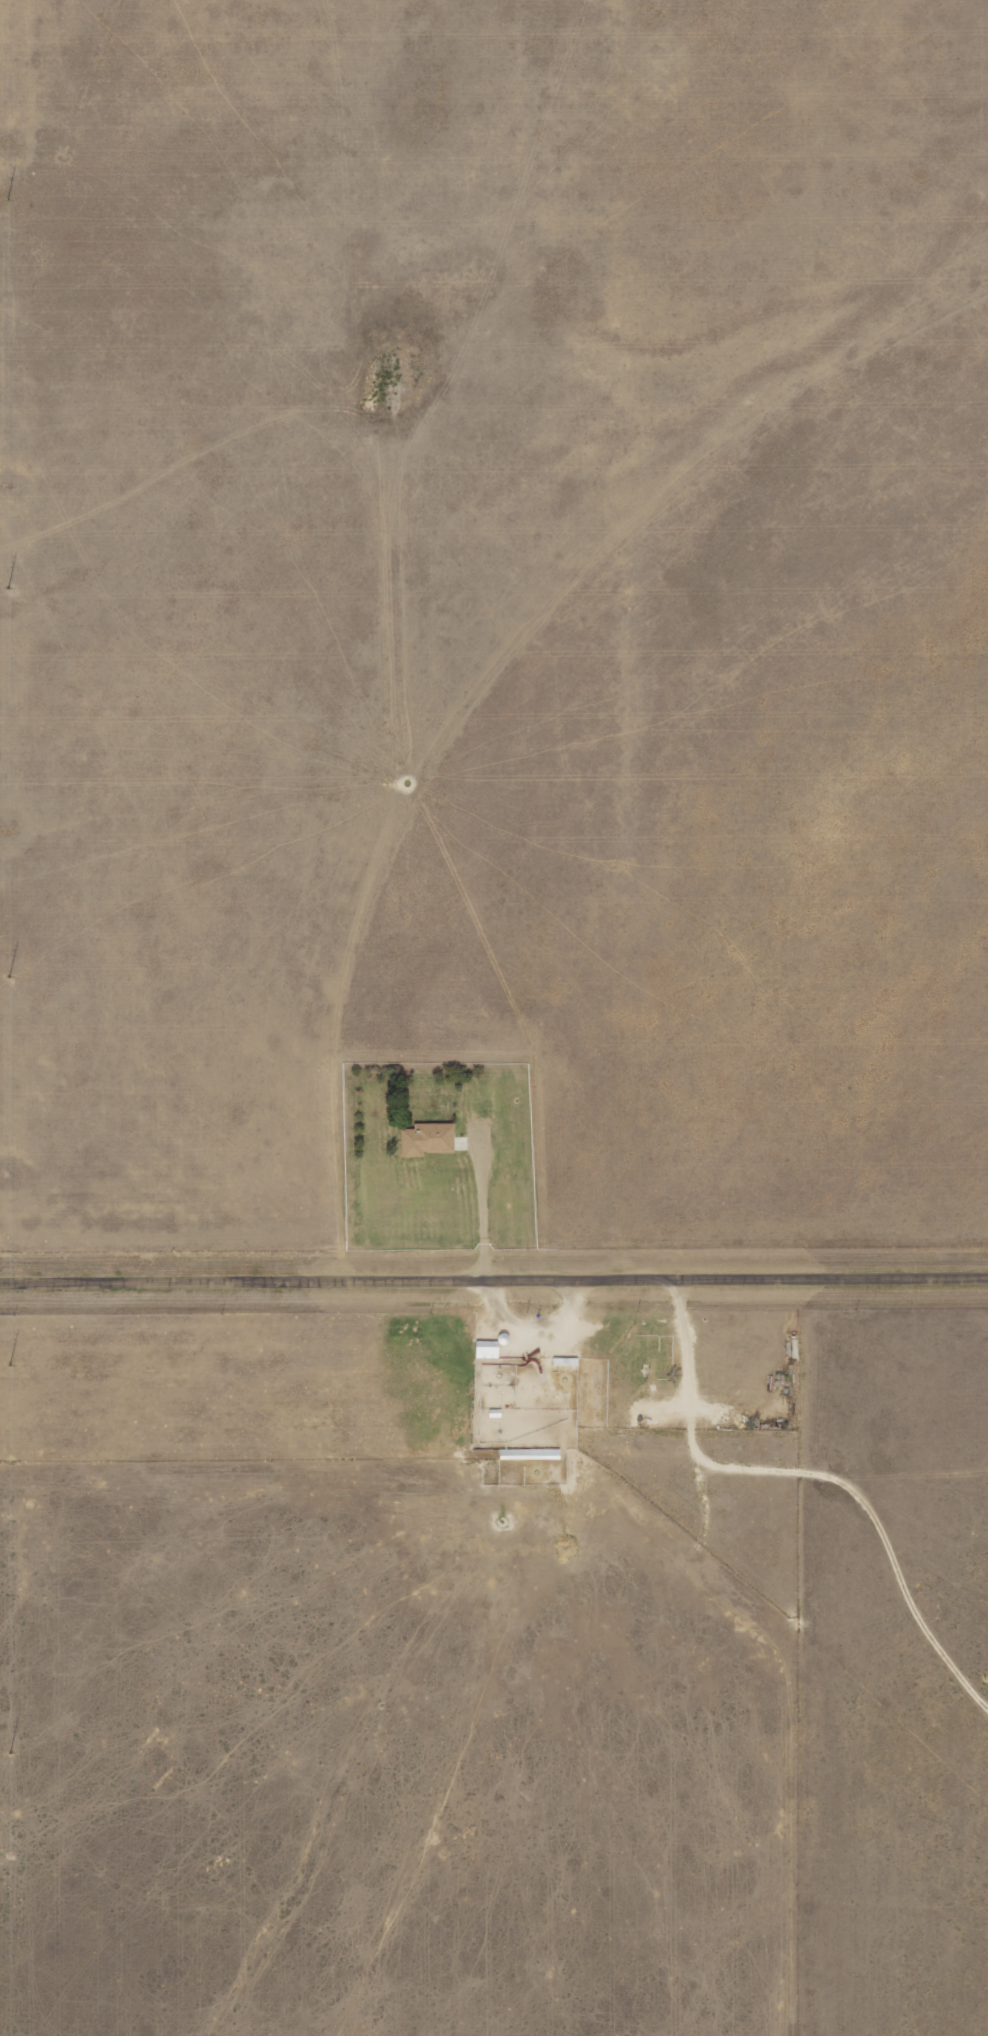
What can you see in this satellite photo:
building: (425, 1139)
road: (493, 1276)
building: (483, 1349)
building: (562, 1361)

